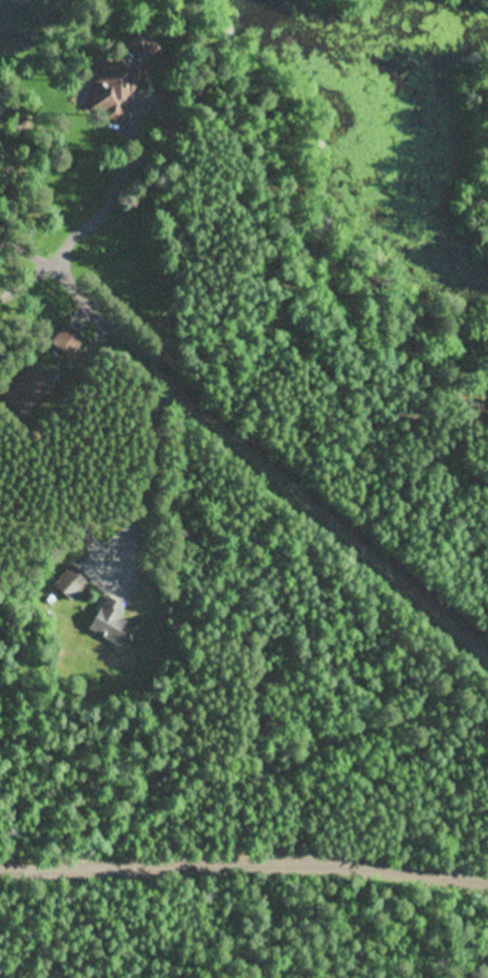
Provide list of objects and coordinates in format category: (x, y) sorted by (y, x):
building: (123, 73)
building: (66, 340)
building: (28, 391)
road: (250, 445)
building: (70, 582)
building: (113, 622)
road: (244, 852)

